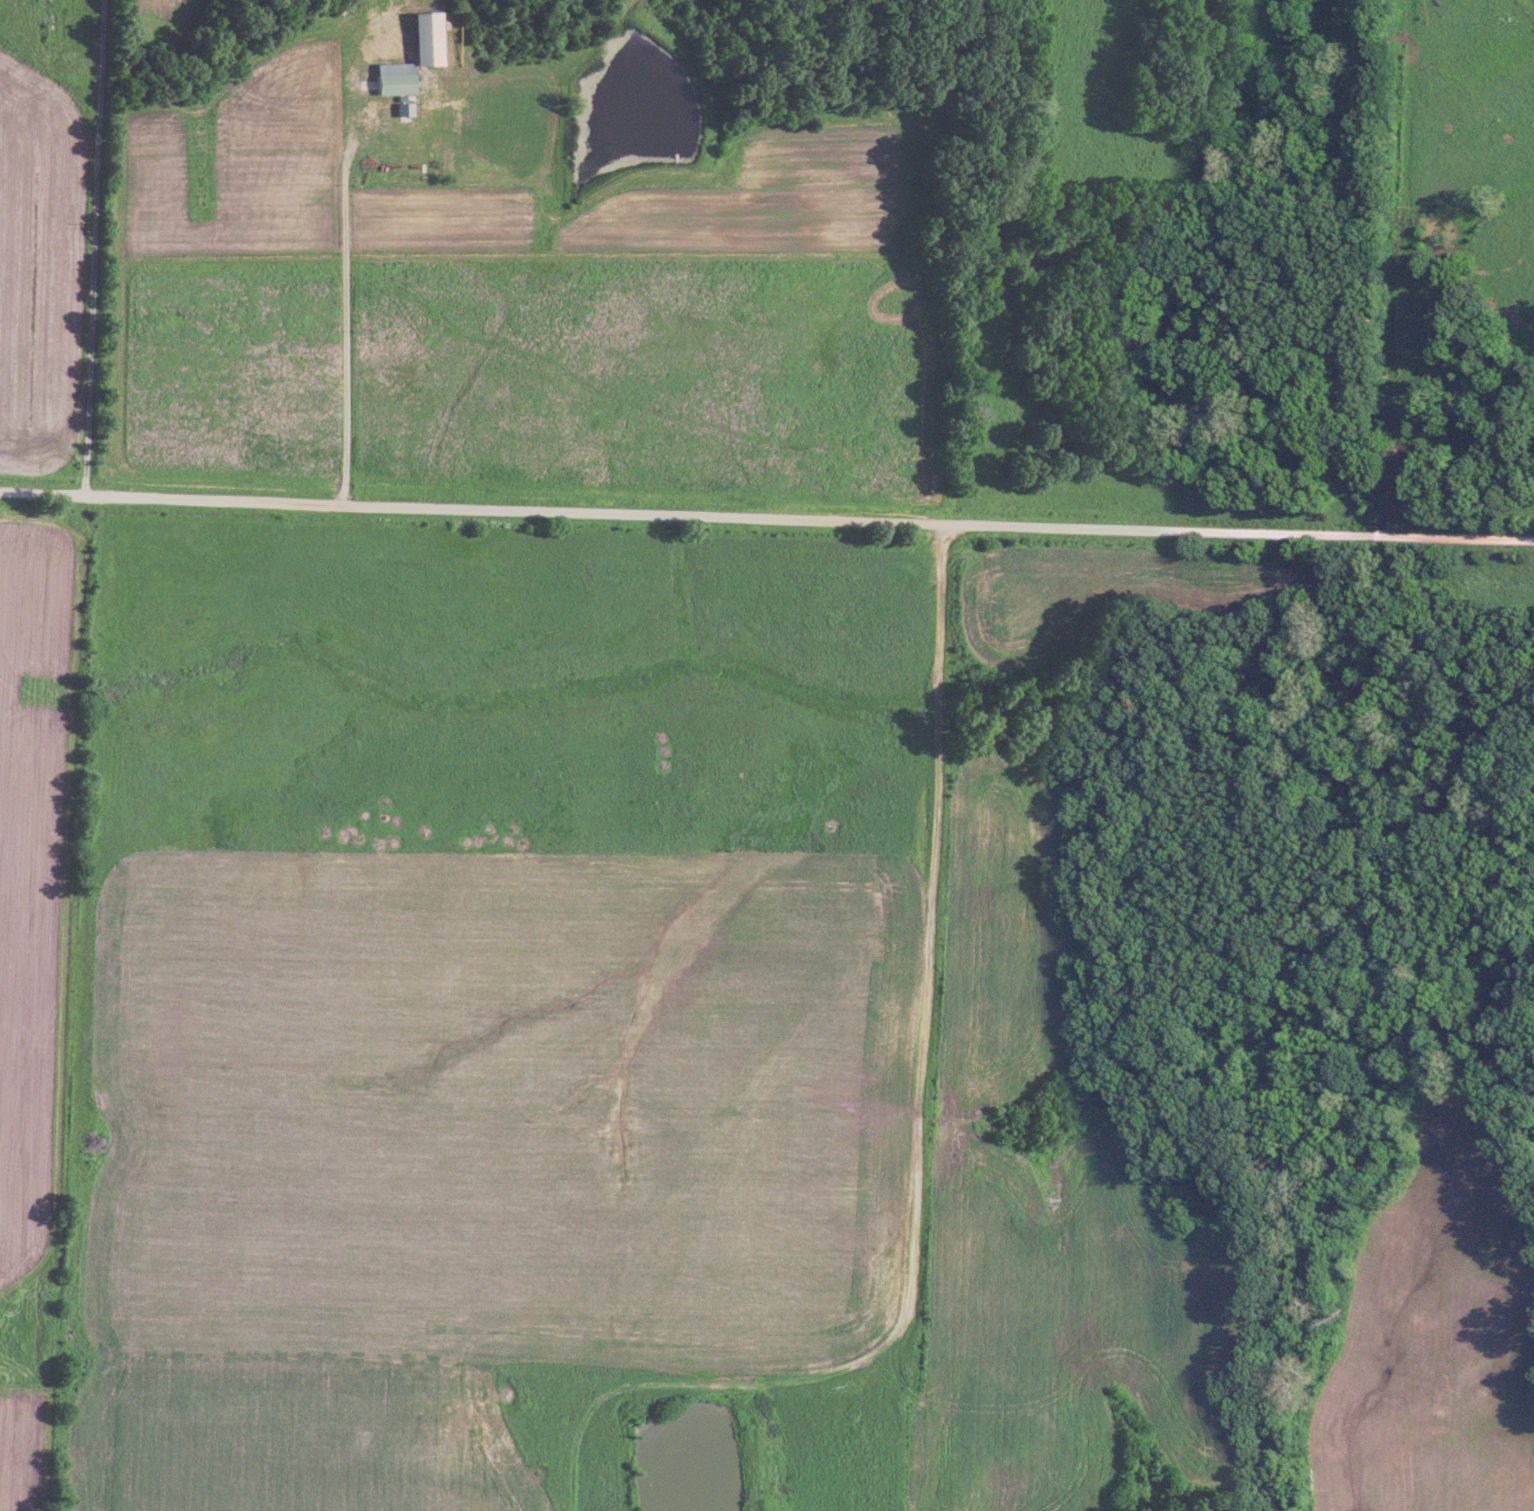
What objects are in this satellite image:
building: (385, 84)
road: (95, 248)
road: (766, 520)

